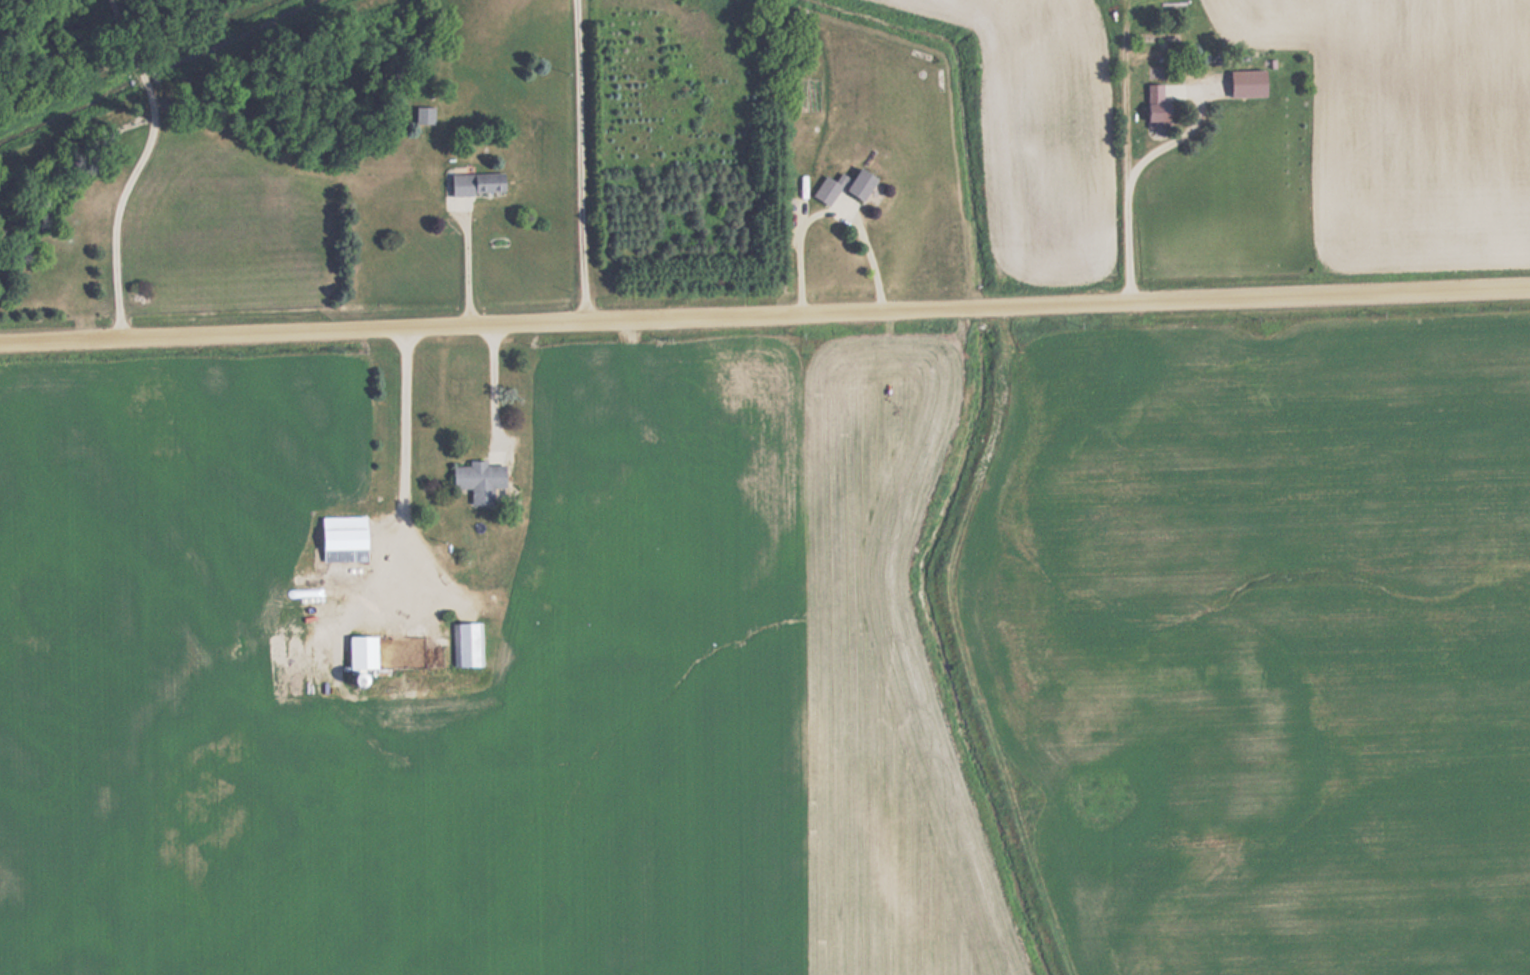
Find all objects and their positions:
building: (1151, 102)
building: (428, 116)
building: (482, 184)
building: (849, 186)
road: (765, 312)
building: (484, 481)
building: (350, 533)
building: (469, 645)
building: (359, 651)
building: (438, 659)

